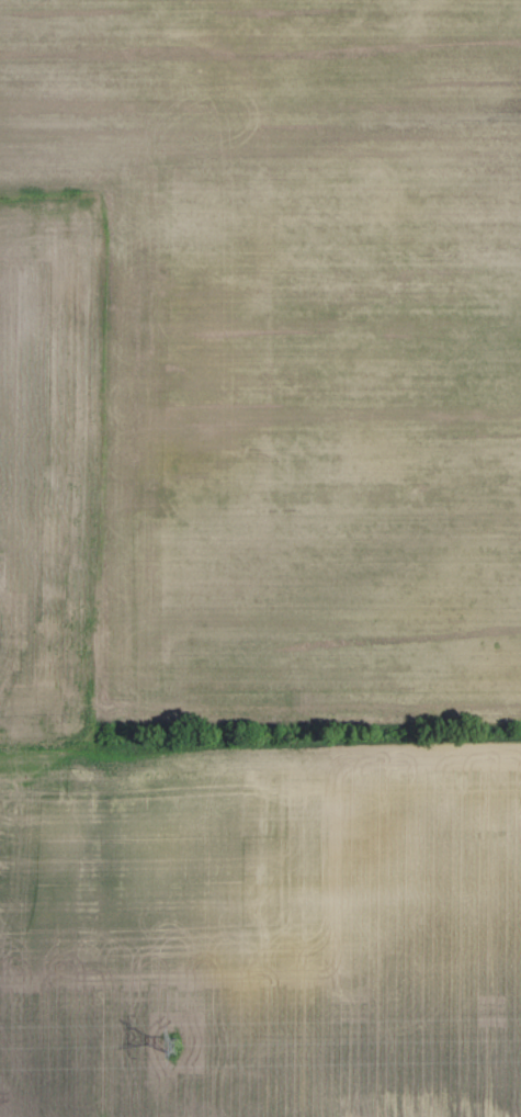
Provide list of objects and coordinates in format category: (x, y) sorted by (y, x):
power tower: (171, 1048)

